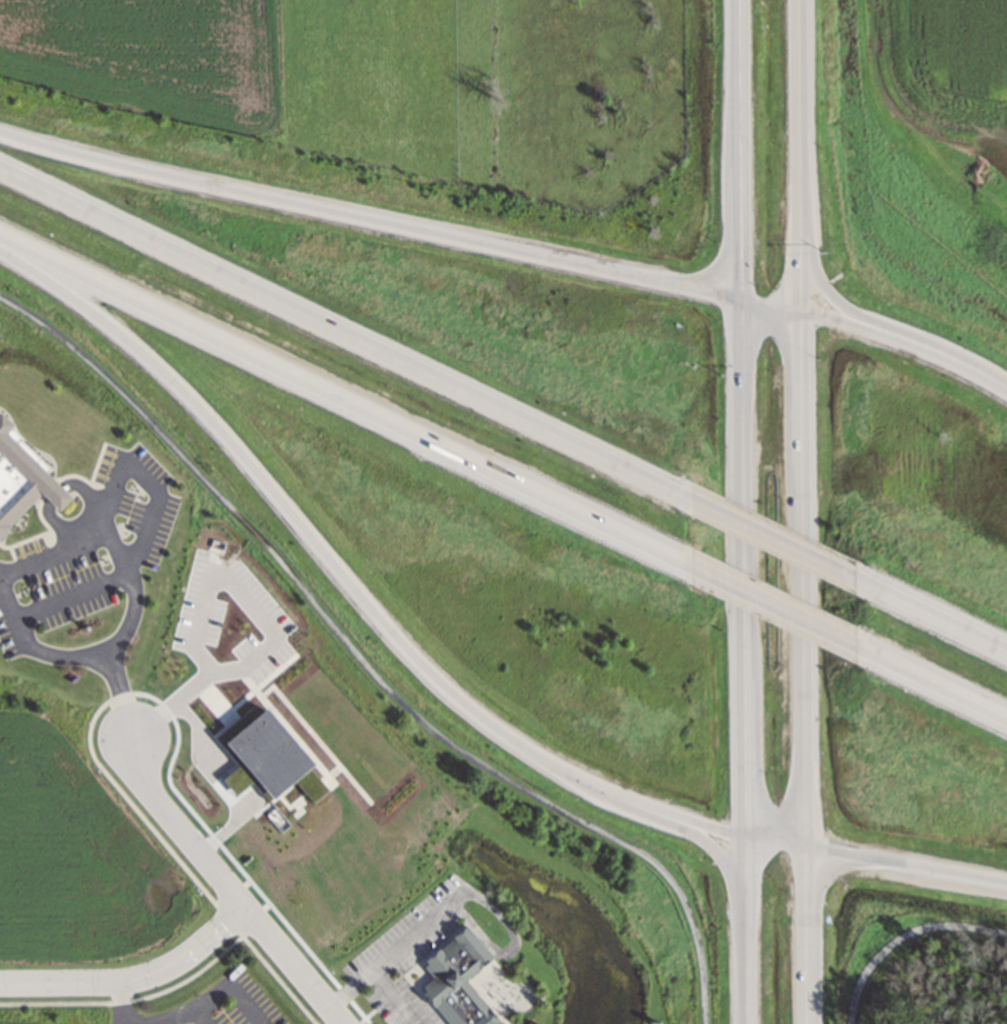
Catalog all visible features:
road: (801, 129)
road: (742, 149)
road: (369, 219)
road: (802, 284)
road: (833, 298)
traffic signals: (741, 299)
road: (771, 304)
traffic signals: (802, 310)
road: (837, 320)
road: (344, 333)
road: (941, 357)
road: (344, 399)
building: (23, 479)
road: (771, 539)
road: (324, 550)
road: (742, 567)
road: (803, 579)
road: (771, 605)
road: (930, 617)
road: (369, 664)
road: (930, 683)
road: (708, 826)
road: (774, 842)
road: (713, 850)
road: (745, 864)
road: (905, 864)
road: (223, 885)
road: (805, 936)
road: (903, 937)
road: (747, 957)
building: (457, 980)
road: (133, 982)

